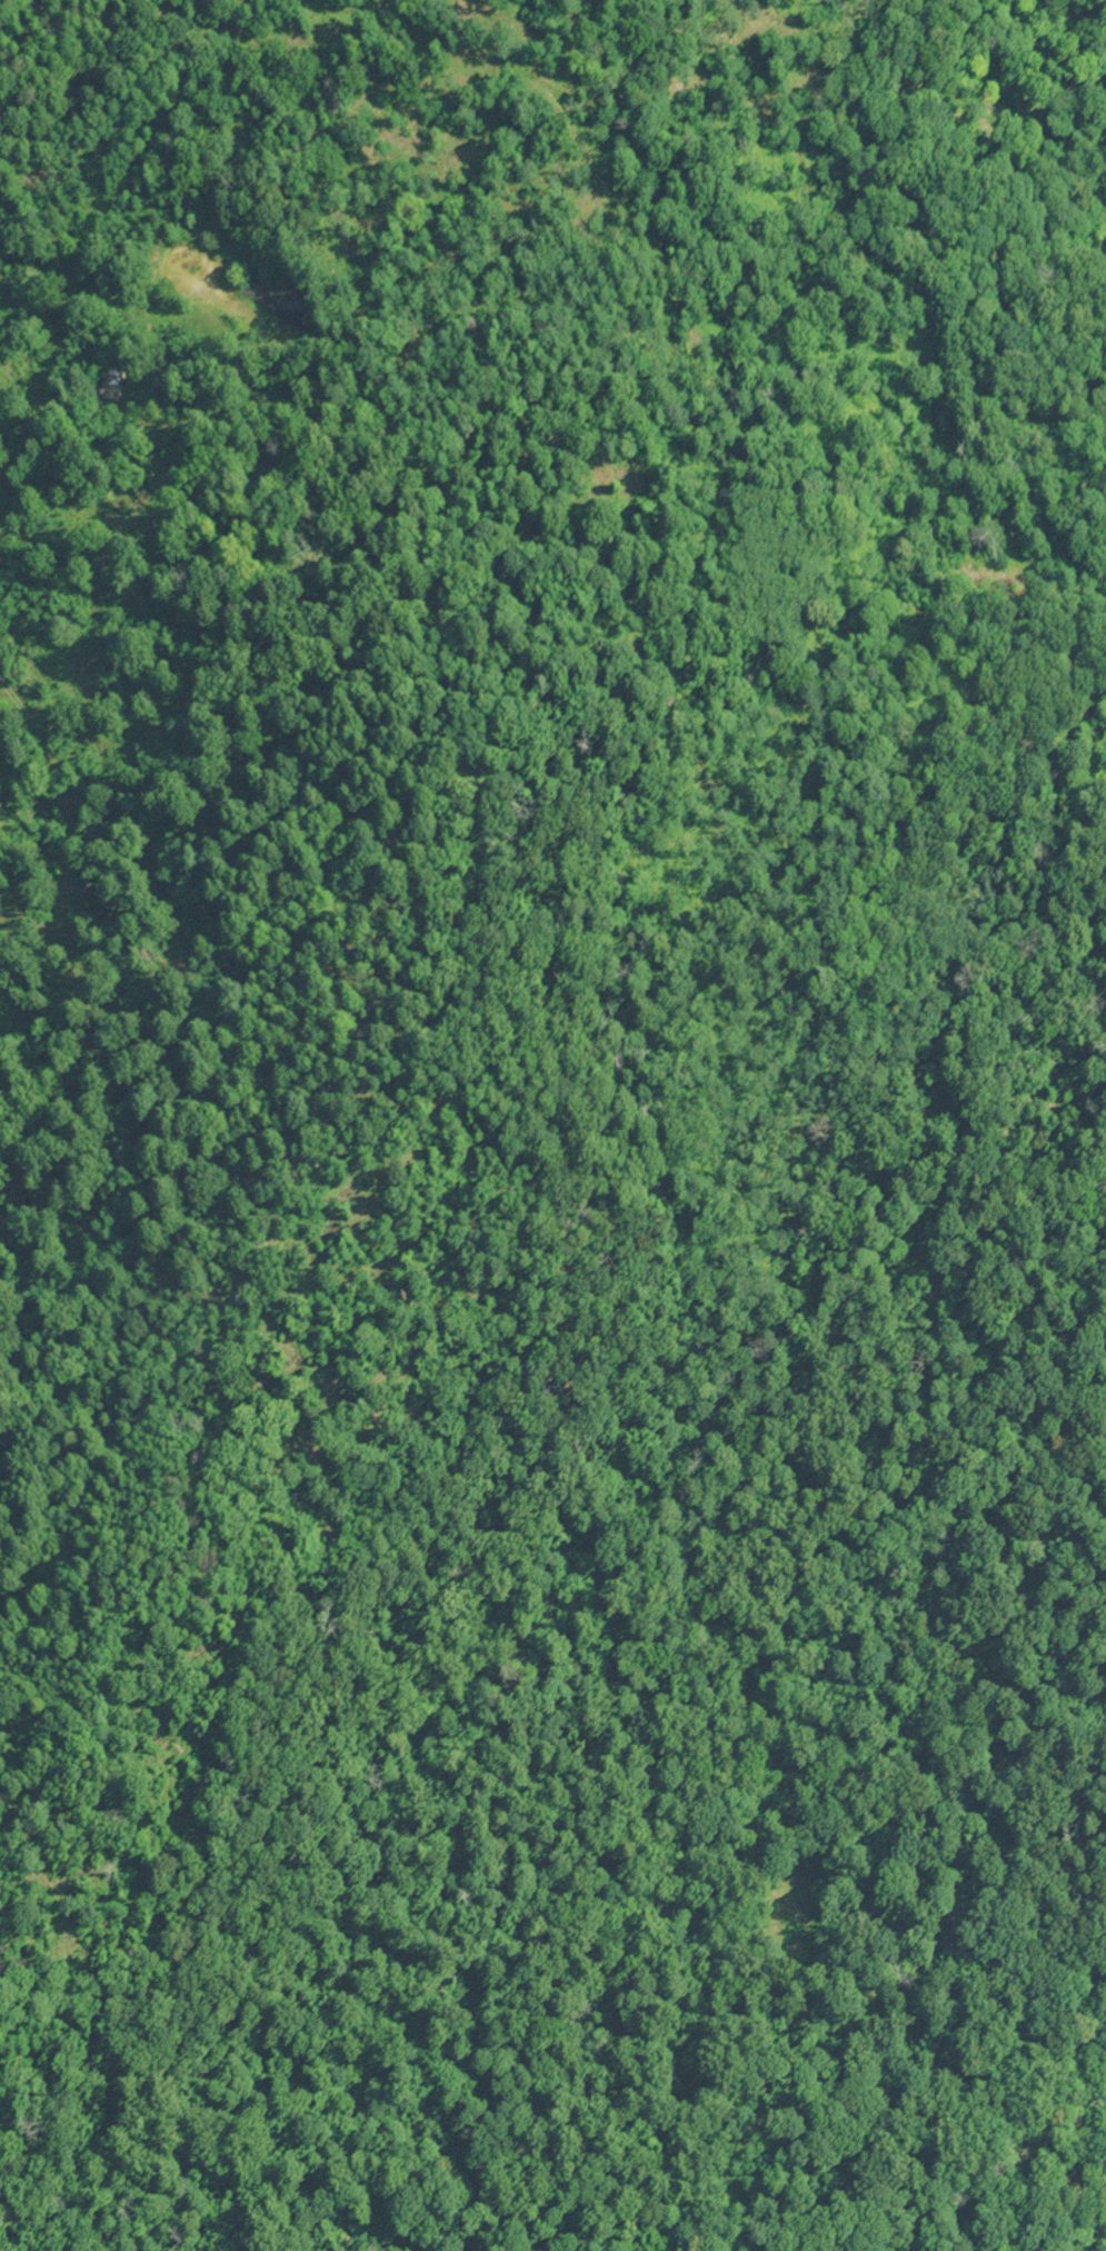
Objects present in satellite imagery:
building: (111, 384)

